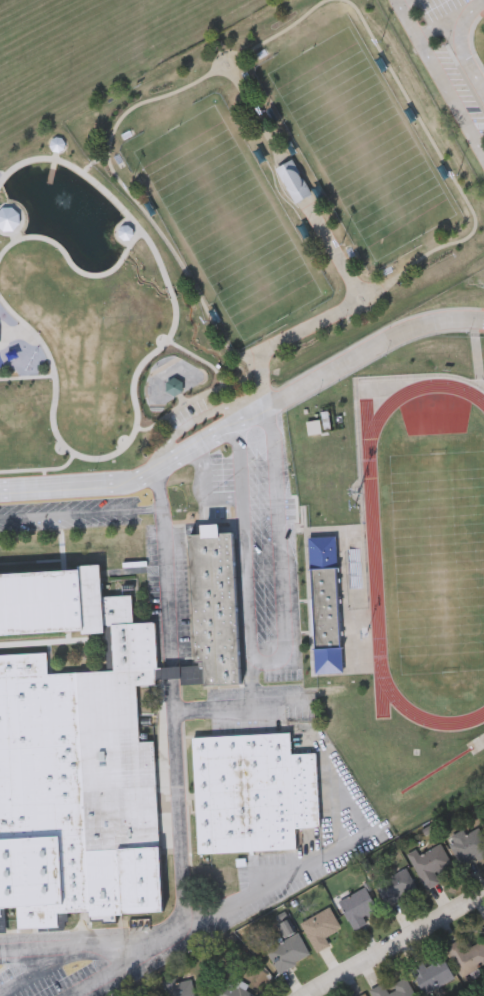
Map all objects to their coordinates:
road: (406, 3)
parking lot: (450, 14)
road: (460, 43)
road: (440, 76)
park: (359, 141)
building: (294, 182)
park: (227, 221)
park: (222, 241)
building: (175, 387)
road: (246, 420)
building: (315, 429)
building: (0, 458)
road: (205, 491)
road: (82, 512)
building: (326, 603)
road: (278, 657)
road: (174, 699)
road: (240, 705)
building: (94, 738)
building: (253, 792)
building: (470, 844)
building: (430, 863)
building: (221, 877)
road: (275, 880)
building: (396, 885)
building: (357, 906)
building: (322, 927)
road: (75, 941)
road: (395, 945)
building: (288, 946)
building: (468, 952)
road: (127, 961)
road: (45, 967)
building: (434, 973)
building: (179, 987)
building: (394, 988)
building: (230, 990)
building: (366, 995)

